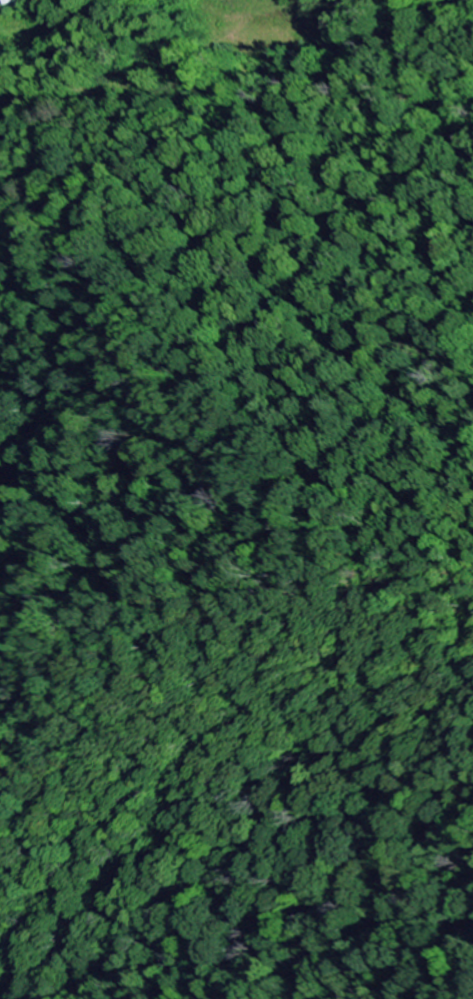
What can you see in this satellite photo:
building: (9, 1)

